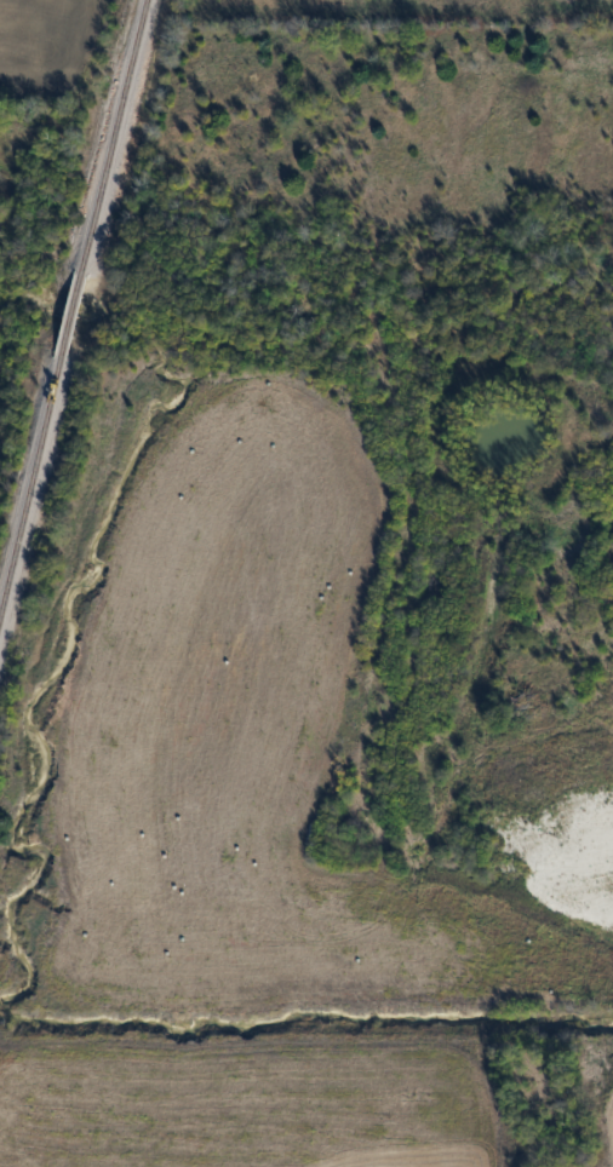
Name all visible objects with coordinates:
railway: (115, 138)
railway: (74, 317)
railway: (31, 489)

